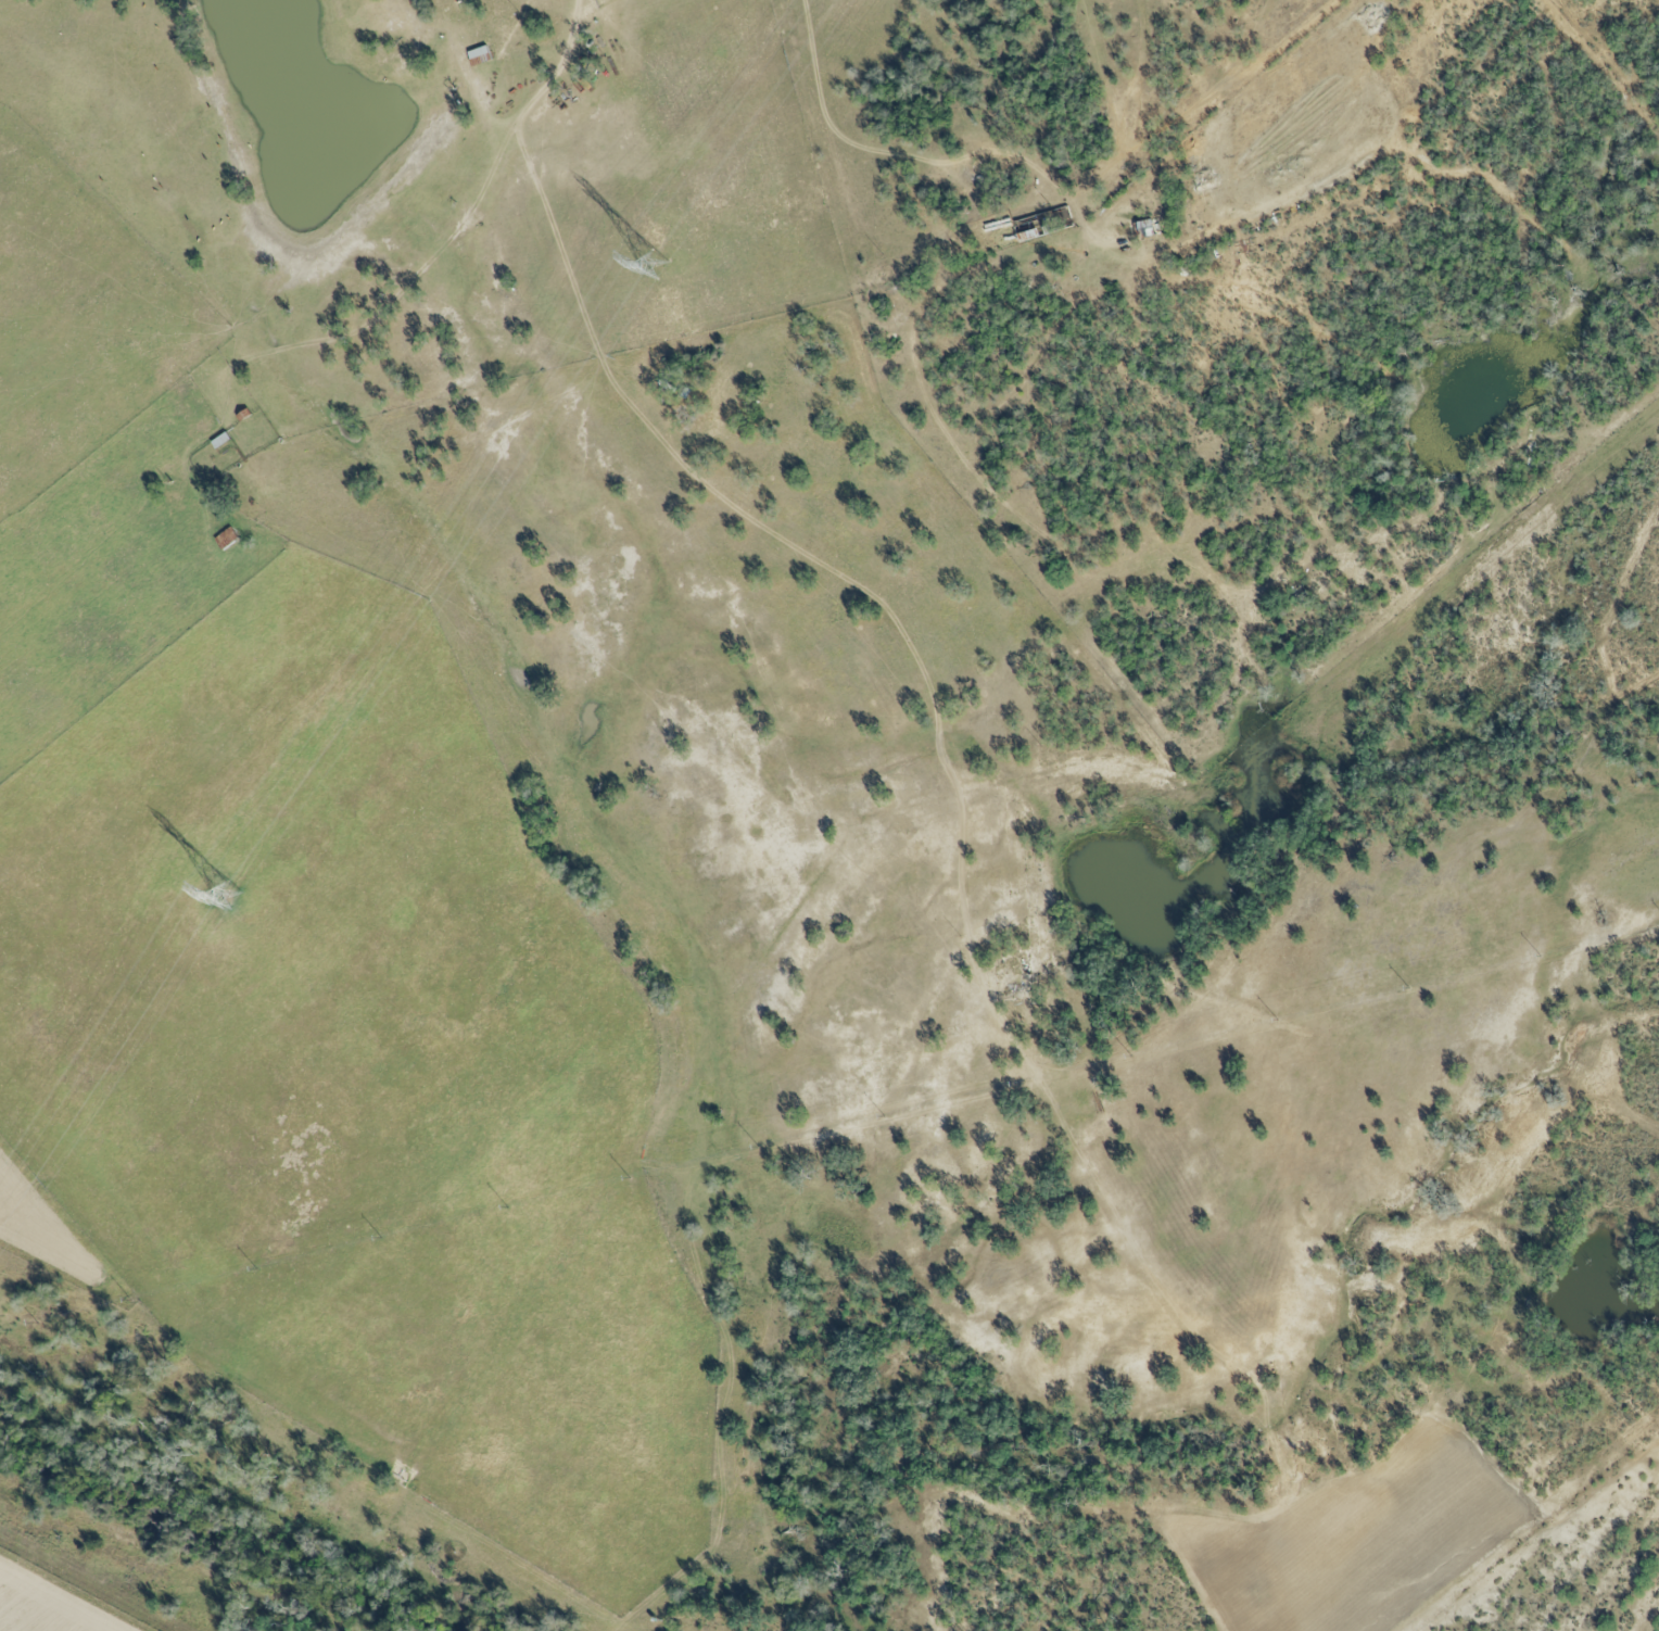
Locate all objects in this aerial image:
building: (478, 58)
road: (562, 62)
building: (1147, 229)
power tower: (655, 265)
power tower: (224, 898)
river: (241, 1535)

